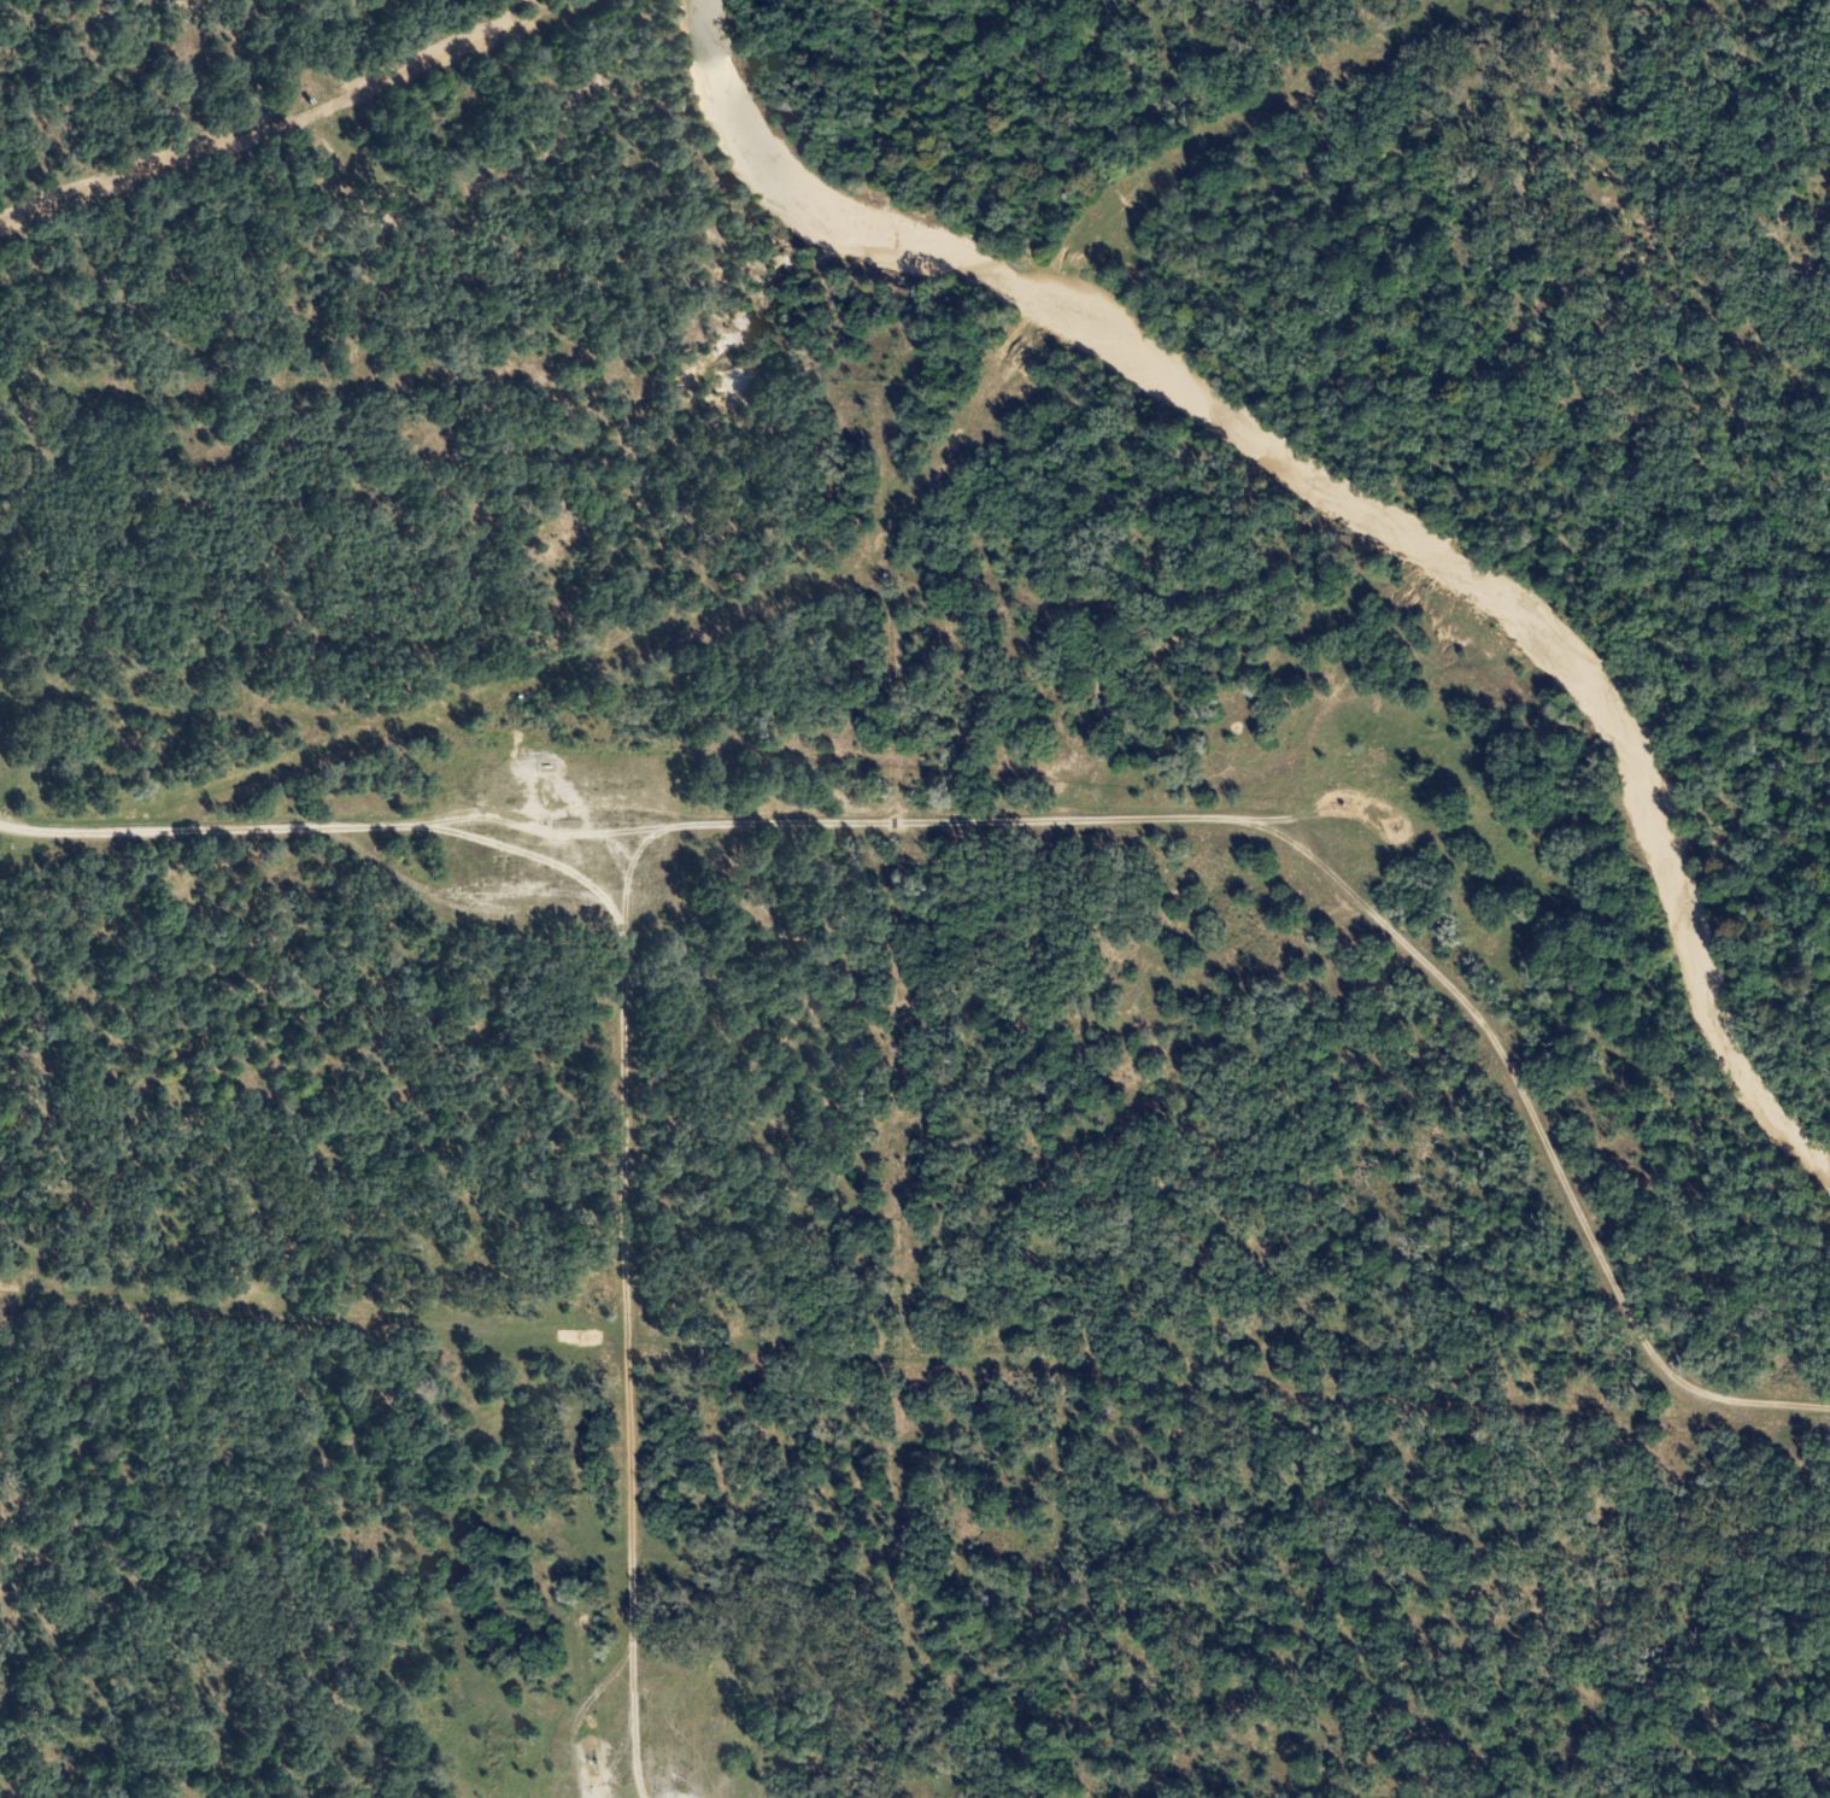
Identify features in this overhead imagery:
road: (702, 821)
road: (627, 1312)

